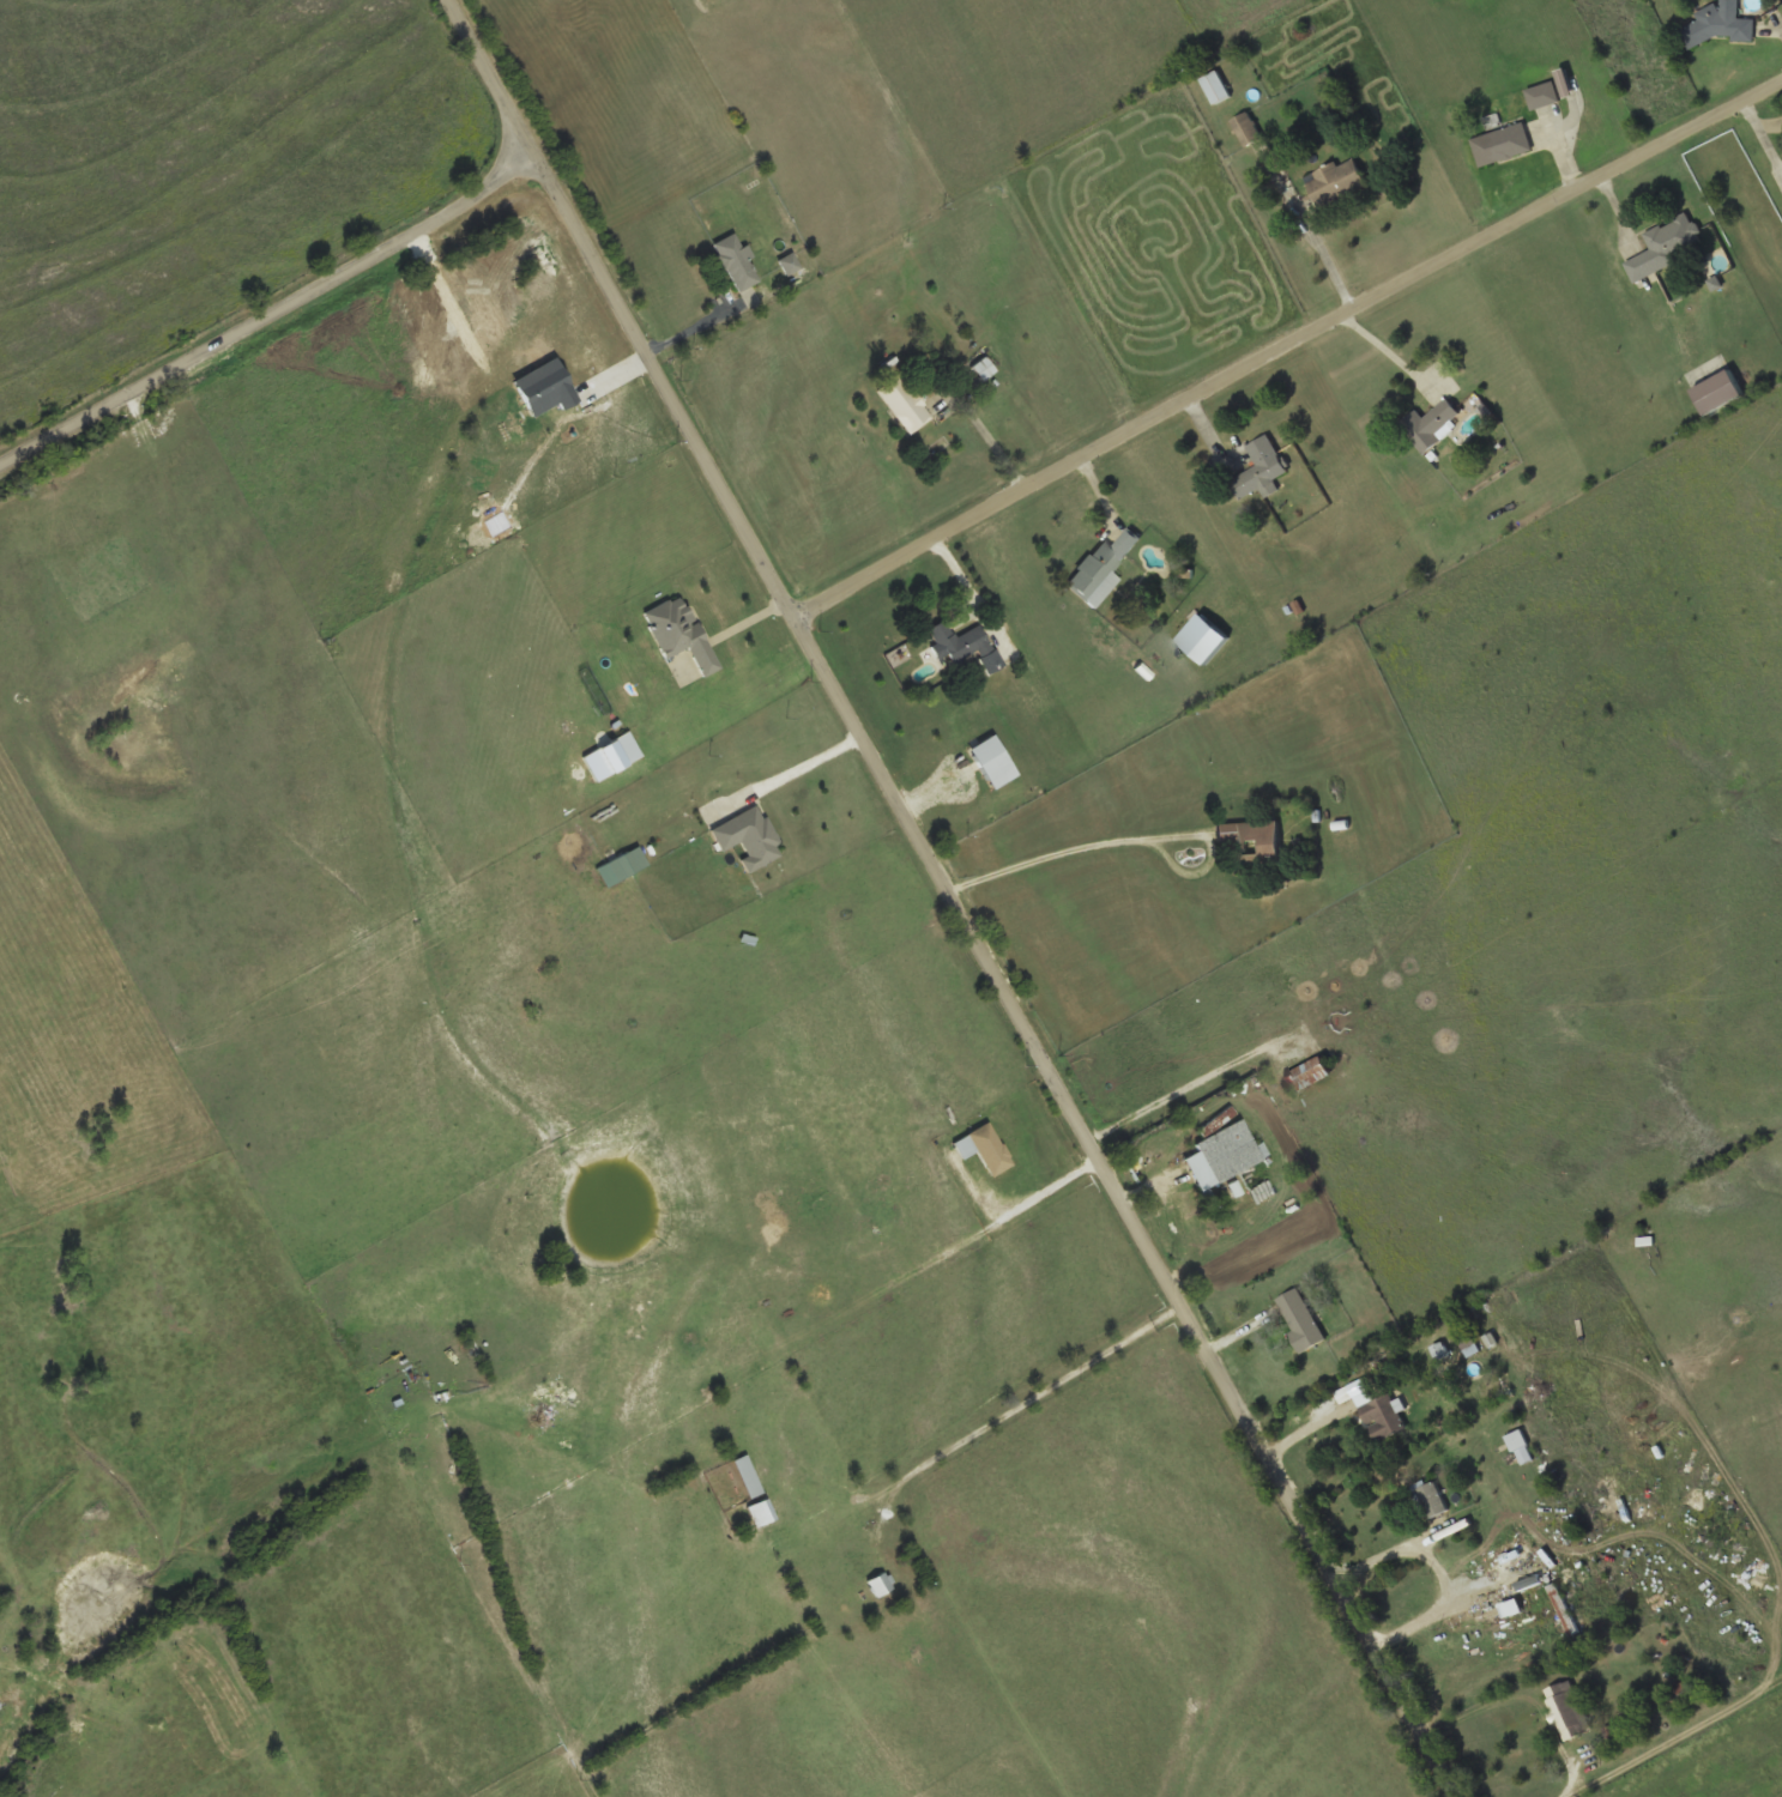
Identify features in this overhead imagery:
building: (1716, 23)
building: (1215, 89)
building: (1542, 96)
building: (1246, 131)
building: (1502, 146)
building: (1335, 182)
building: (1667, 247)
building: (736, 264)
building: (791, 264)
road: (273, 316)
road: (1285, 345)
building: (983, 370)
building: (1712, 385)
building: (904, 405)
building: (1431, 425)
road: (990, 446)
building: (1261, 471)
building: (1100, 570)
building: (678, 634)
building: (960, 643)
building: (748, 837)
building: (1251, 845)
building: (626, 863)
road: (949, 898)
building: (1307, 1075)
building: (984, 1148)
building: (1222, 1155)
building: (1300, 1320)
building: (1469, 1348)
building: (1378, 1414)
building: (1521, 1447)
building: (748, 1477)
building: (1430, 1499)
building: (761, 1513)
building: (880, 1584)
building: (1563, 1610)
building: (1567, 1711)
building: (1614, 1735)

